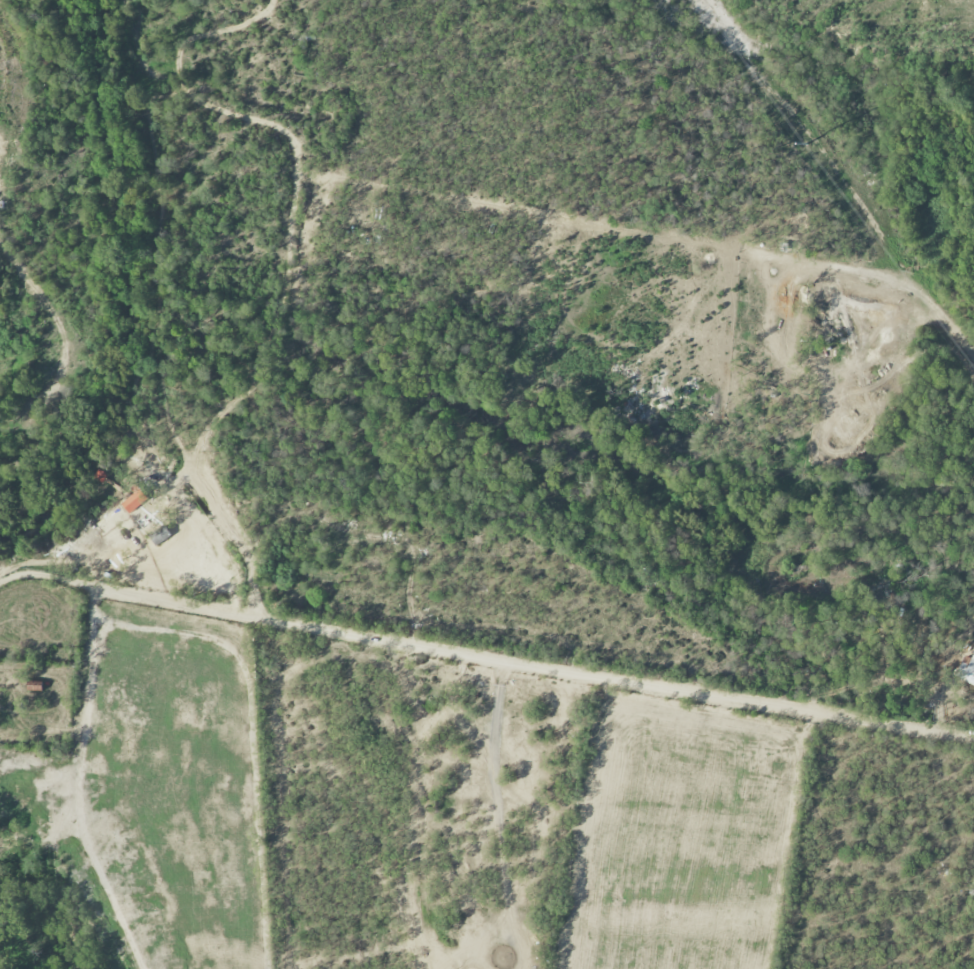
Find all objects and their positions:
power tower: (811, 148)
building: (160, 535)
road: (486, 649)
building: (967, 669)
road: (253, 735)
road: (80, 781)

